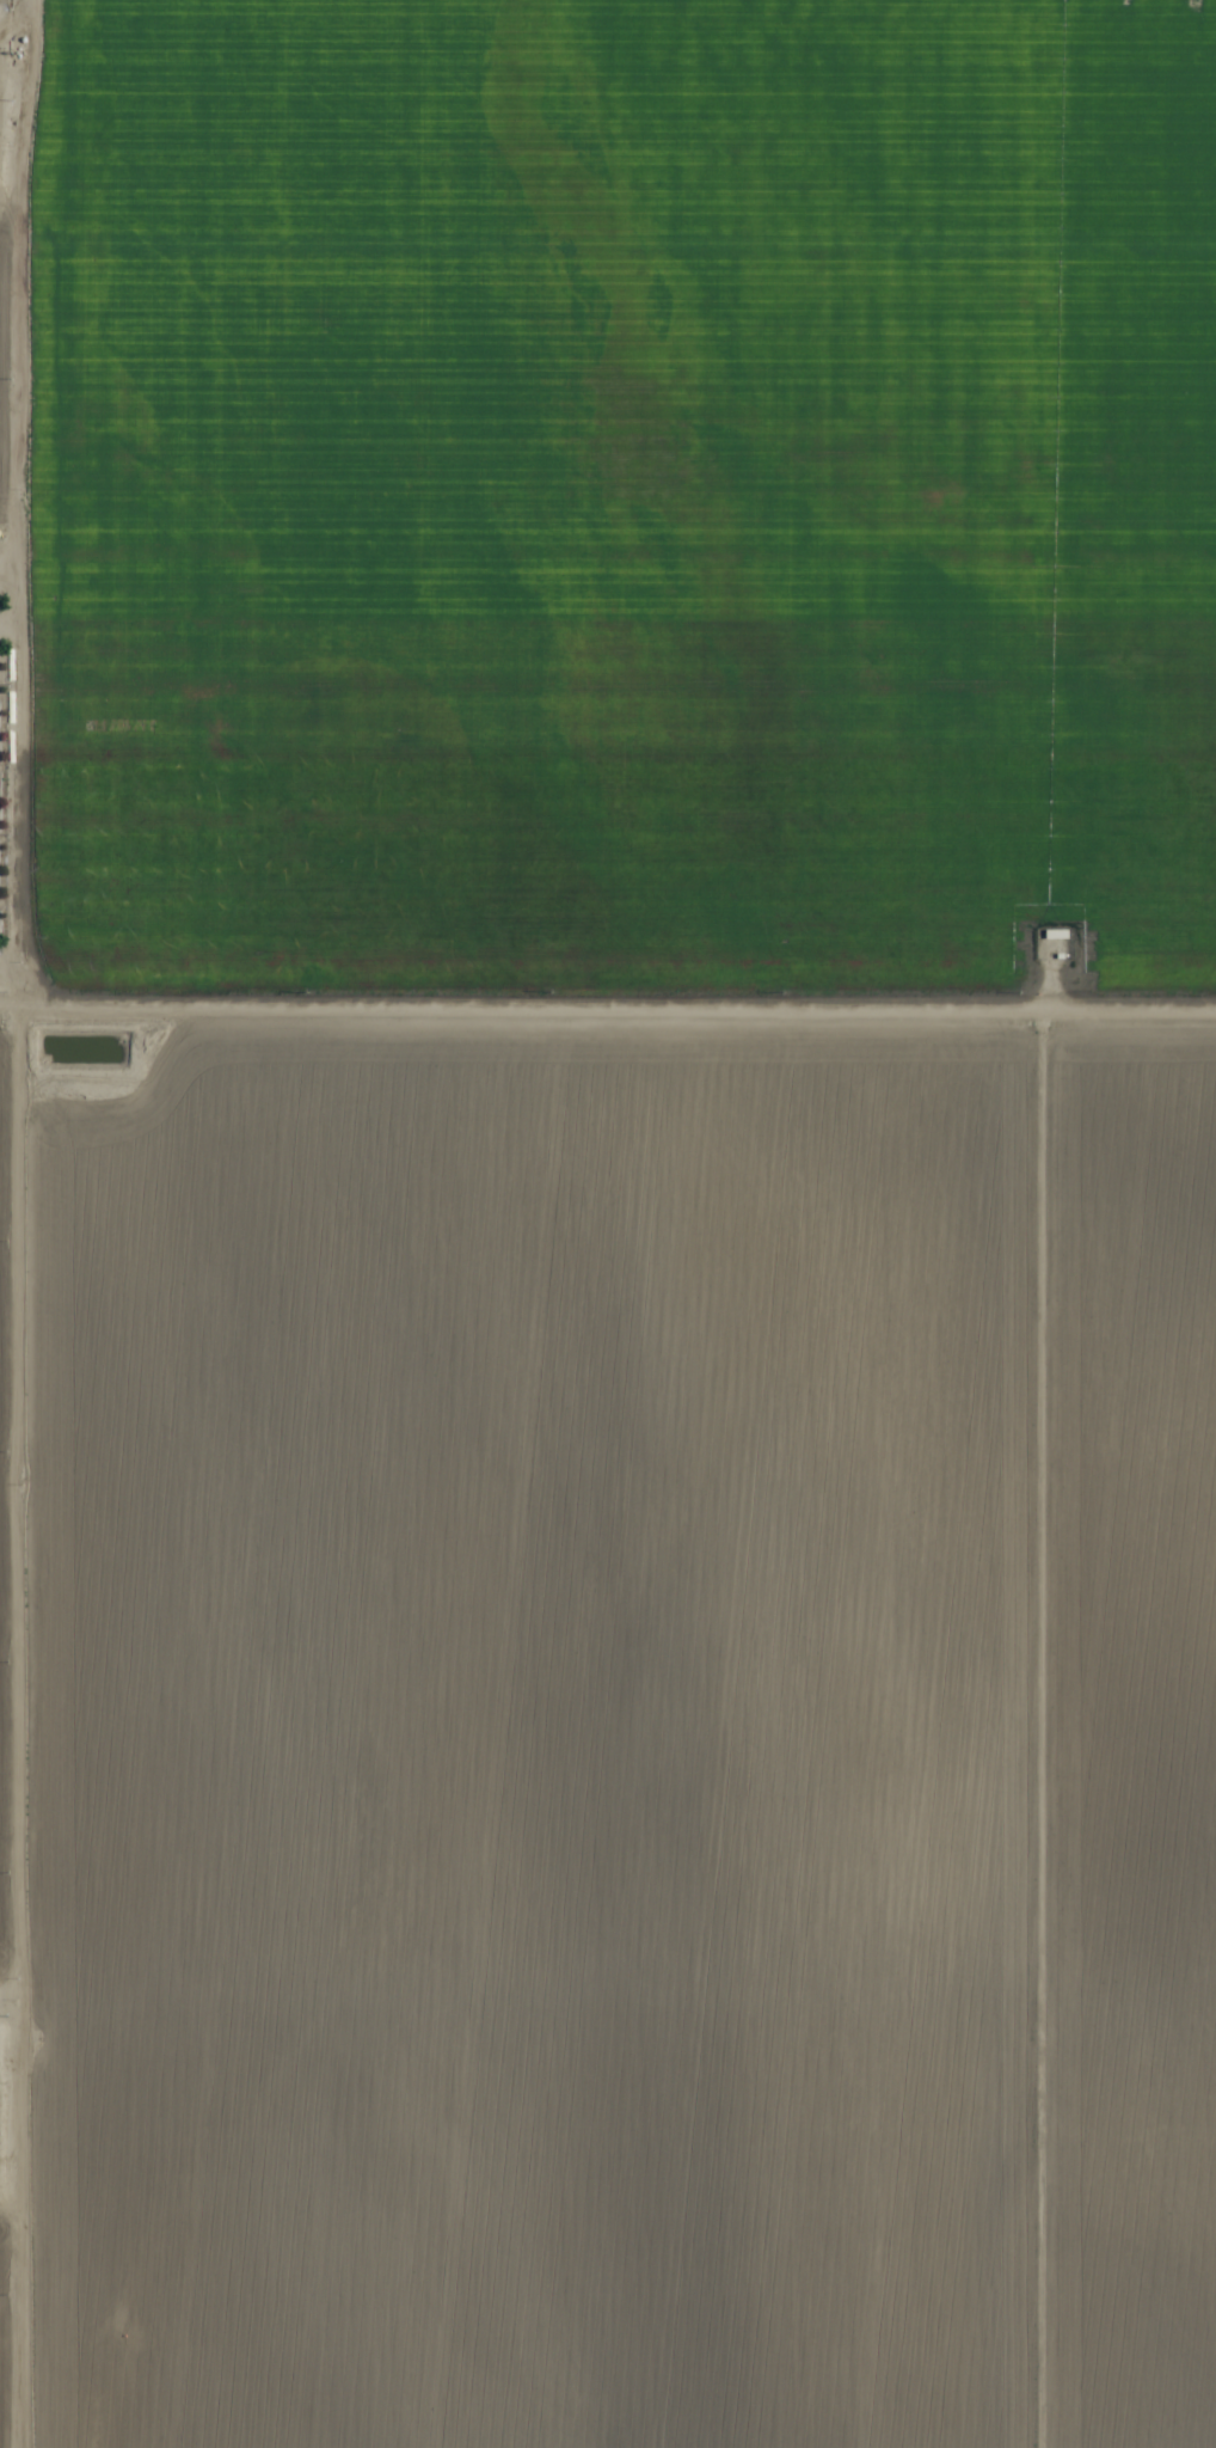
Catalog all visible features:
road: (608, 993)
crop: (608, 1224)

